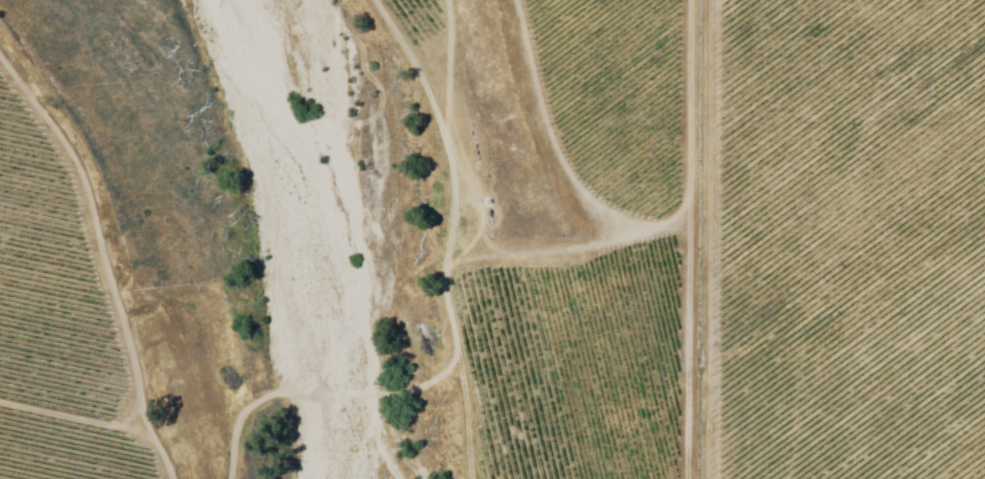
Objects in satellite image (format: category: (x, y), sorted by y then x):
river: (301, 236)

